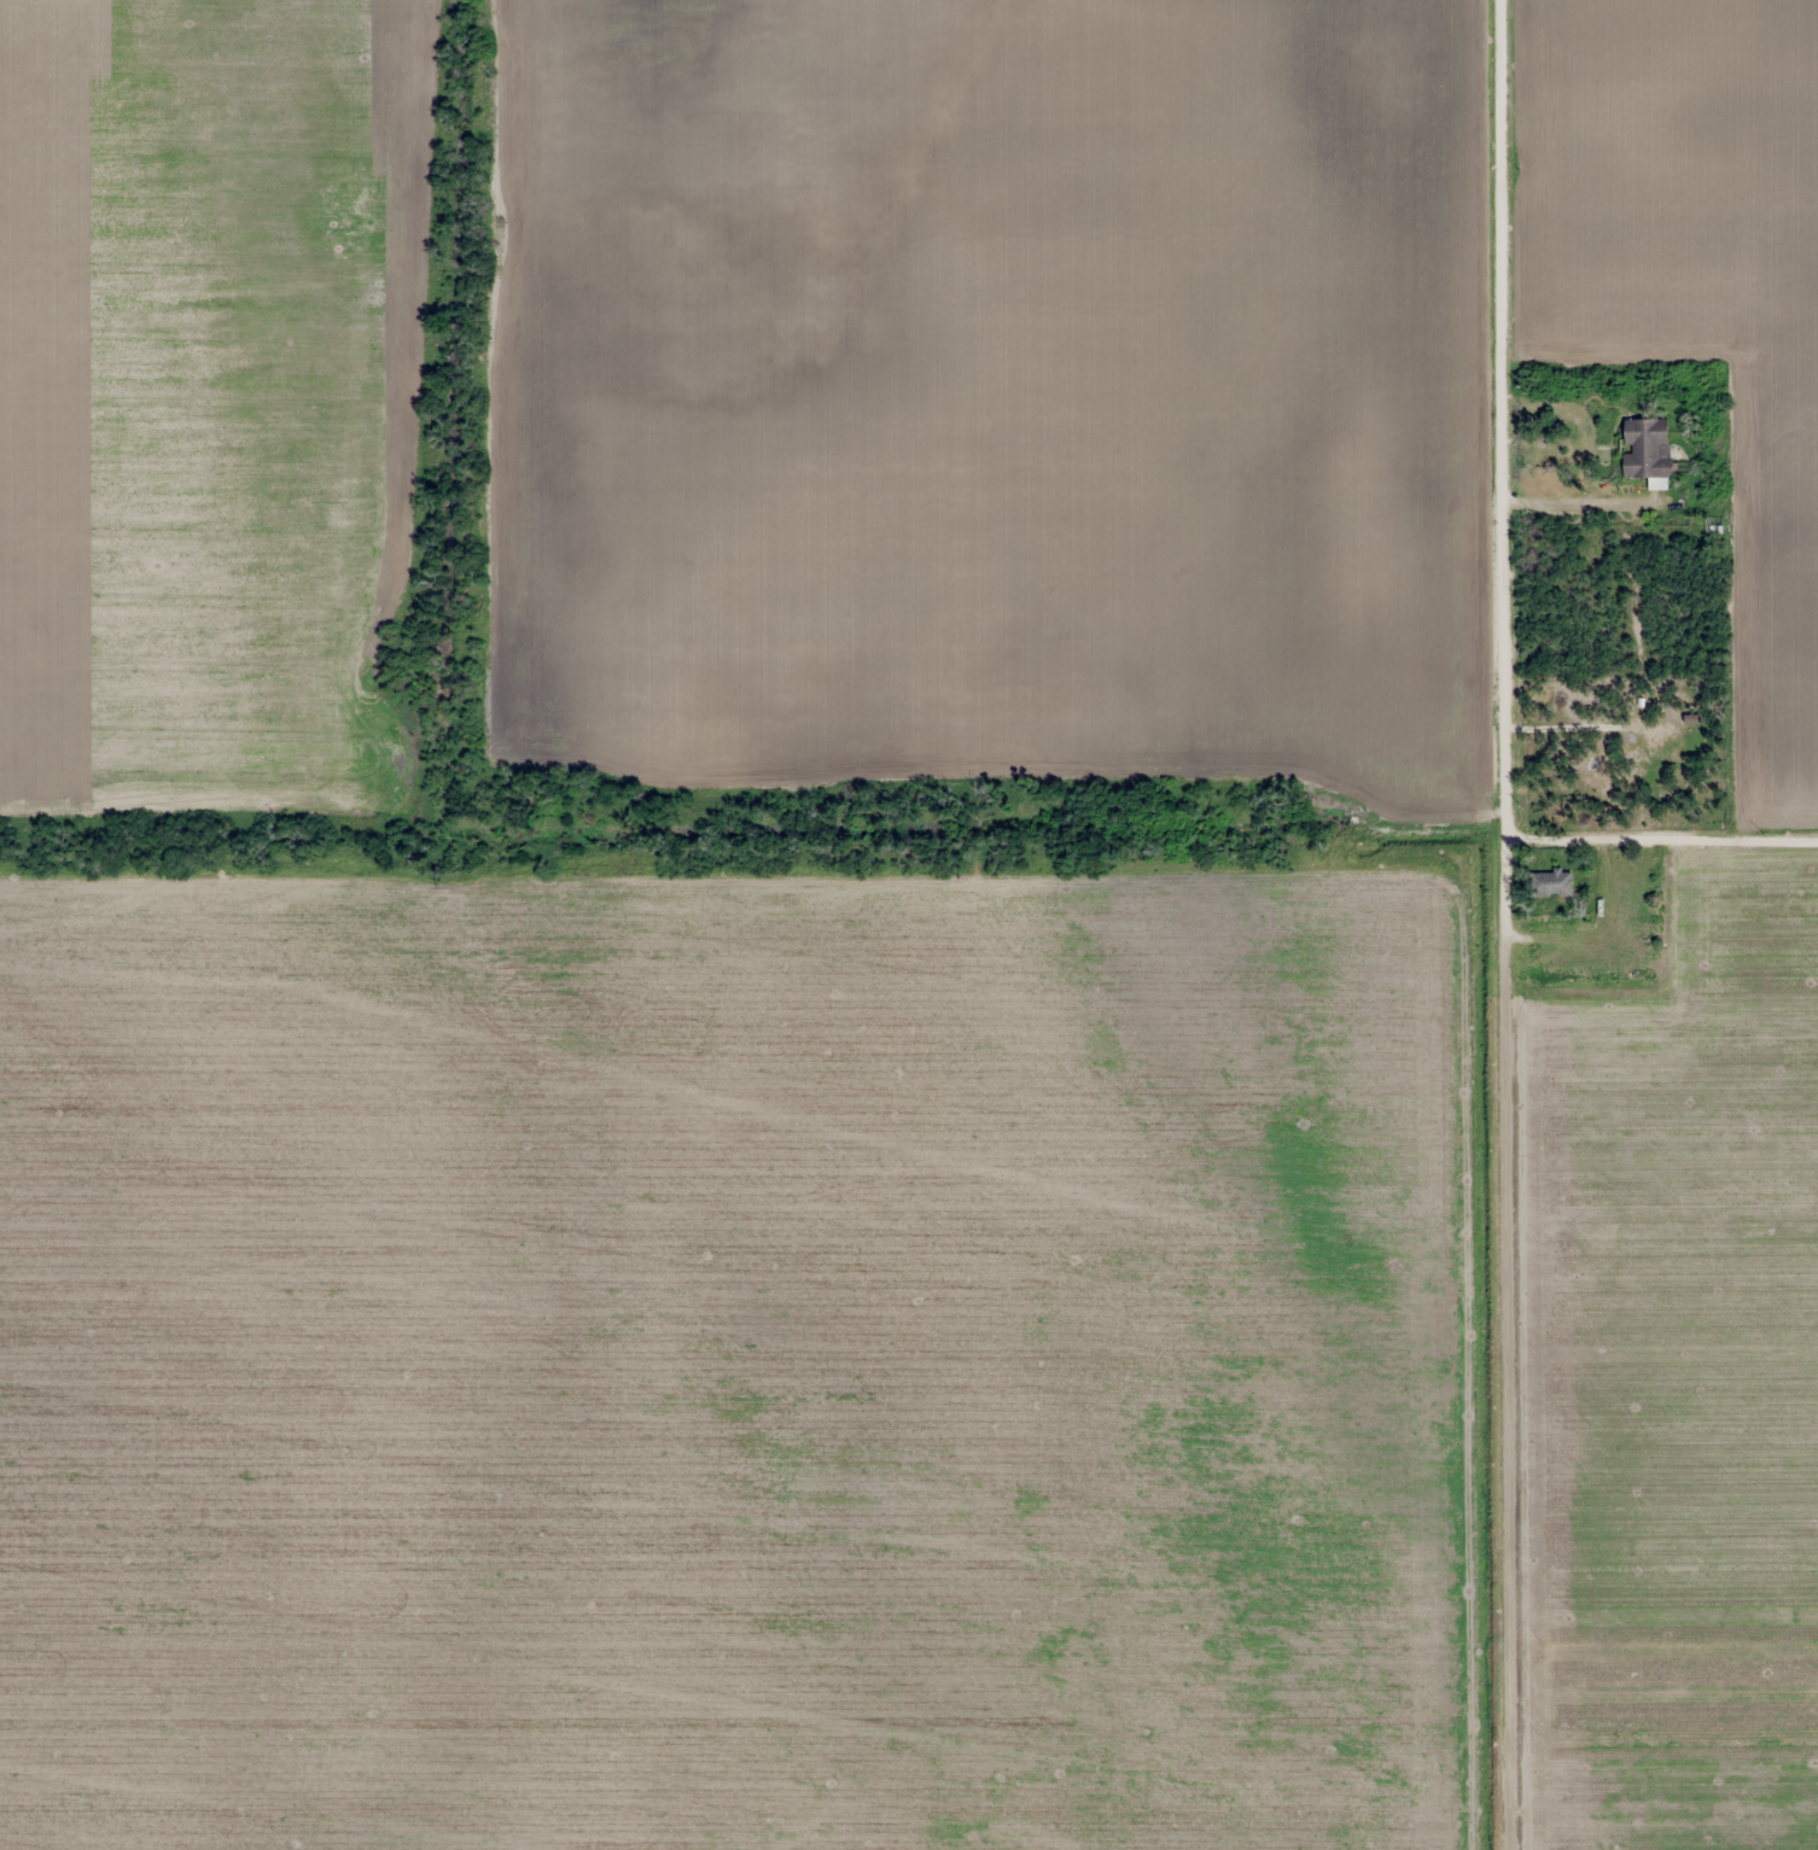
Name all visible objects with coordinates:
building: (1647, 447)
road: (1645, 830)
building: (1550, 883)
road: (1474, 924)
road: (13, 1788)

